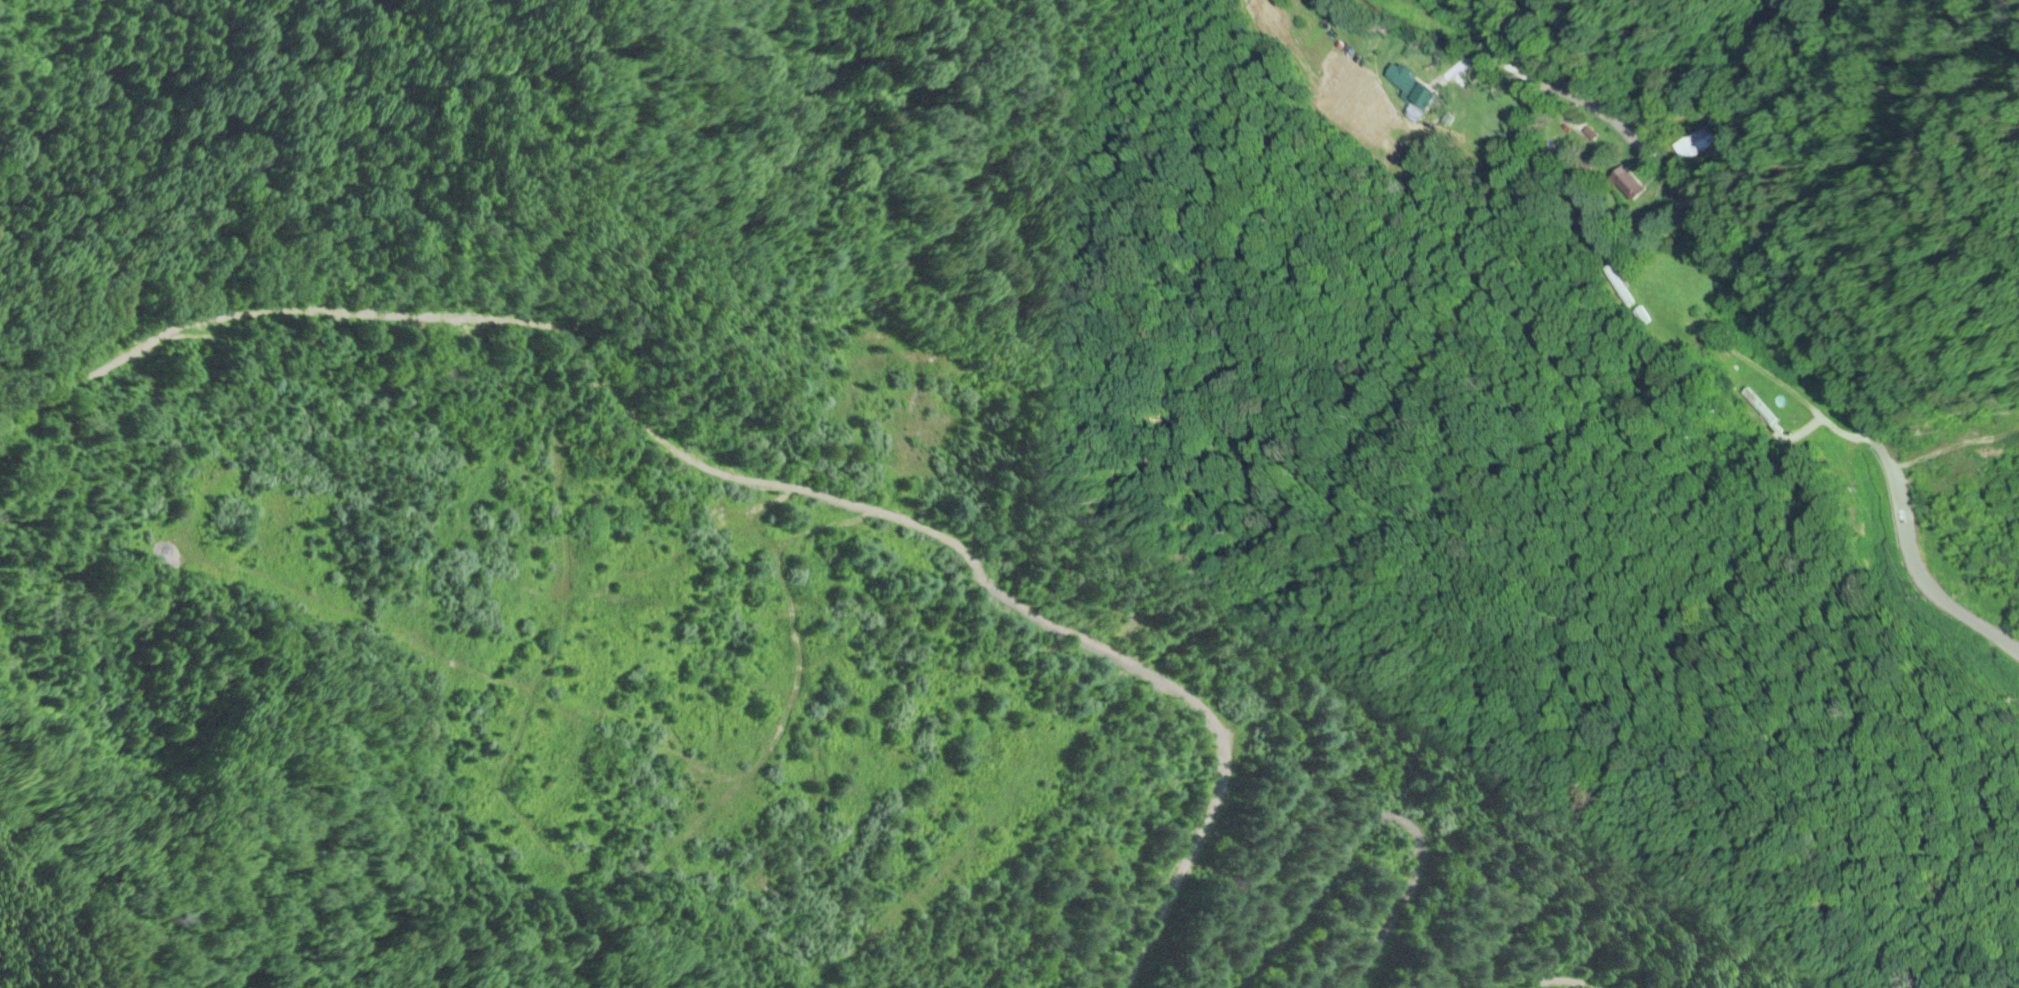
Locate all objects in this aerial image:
building: (1416, 5)
building: (1587, 30)
building: (1412, 87)
building: (1706, 143)
building: (1553, 152)
building: (1633, 184)
road: (1769, 312)

